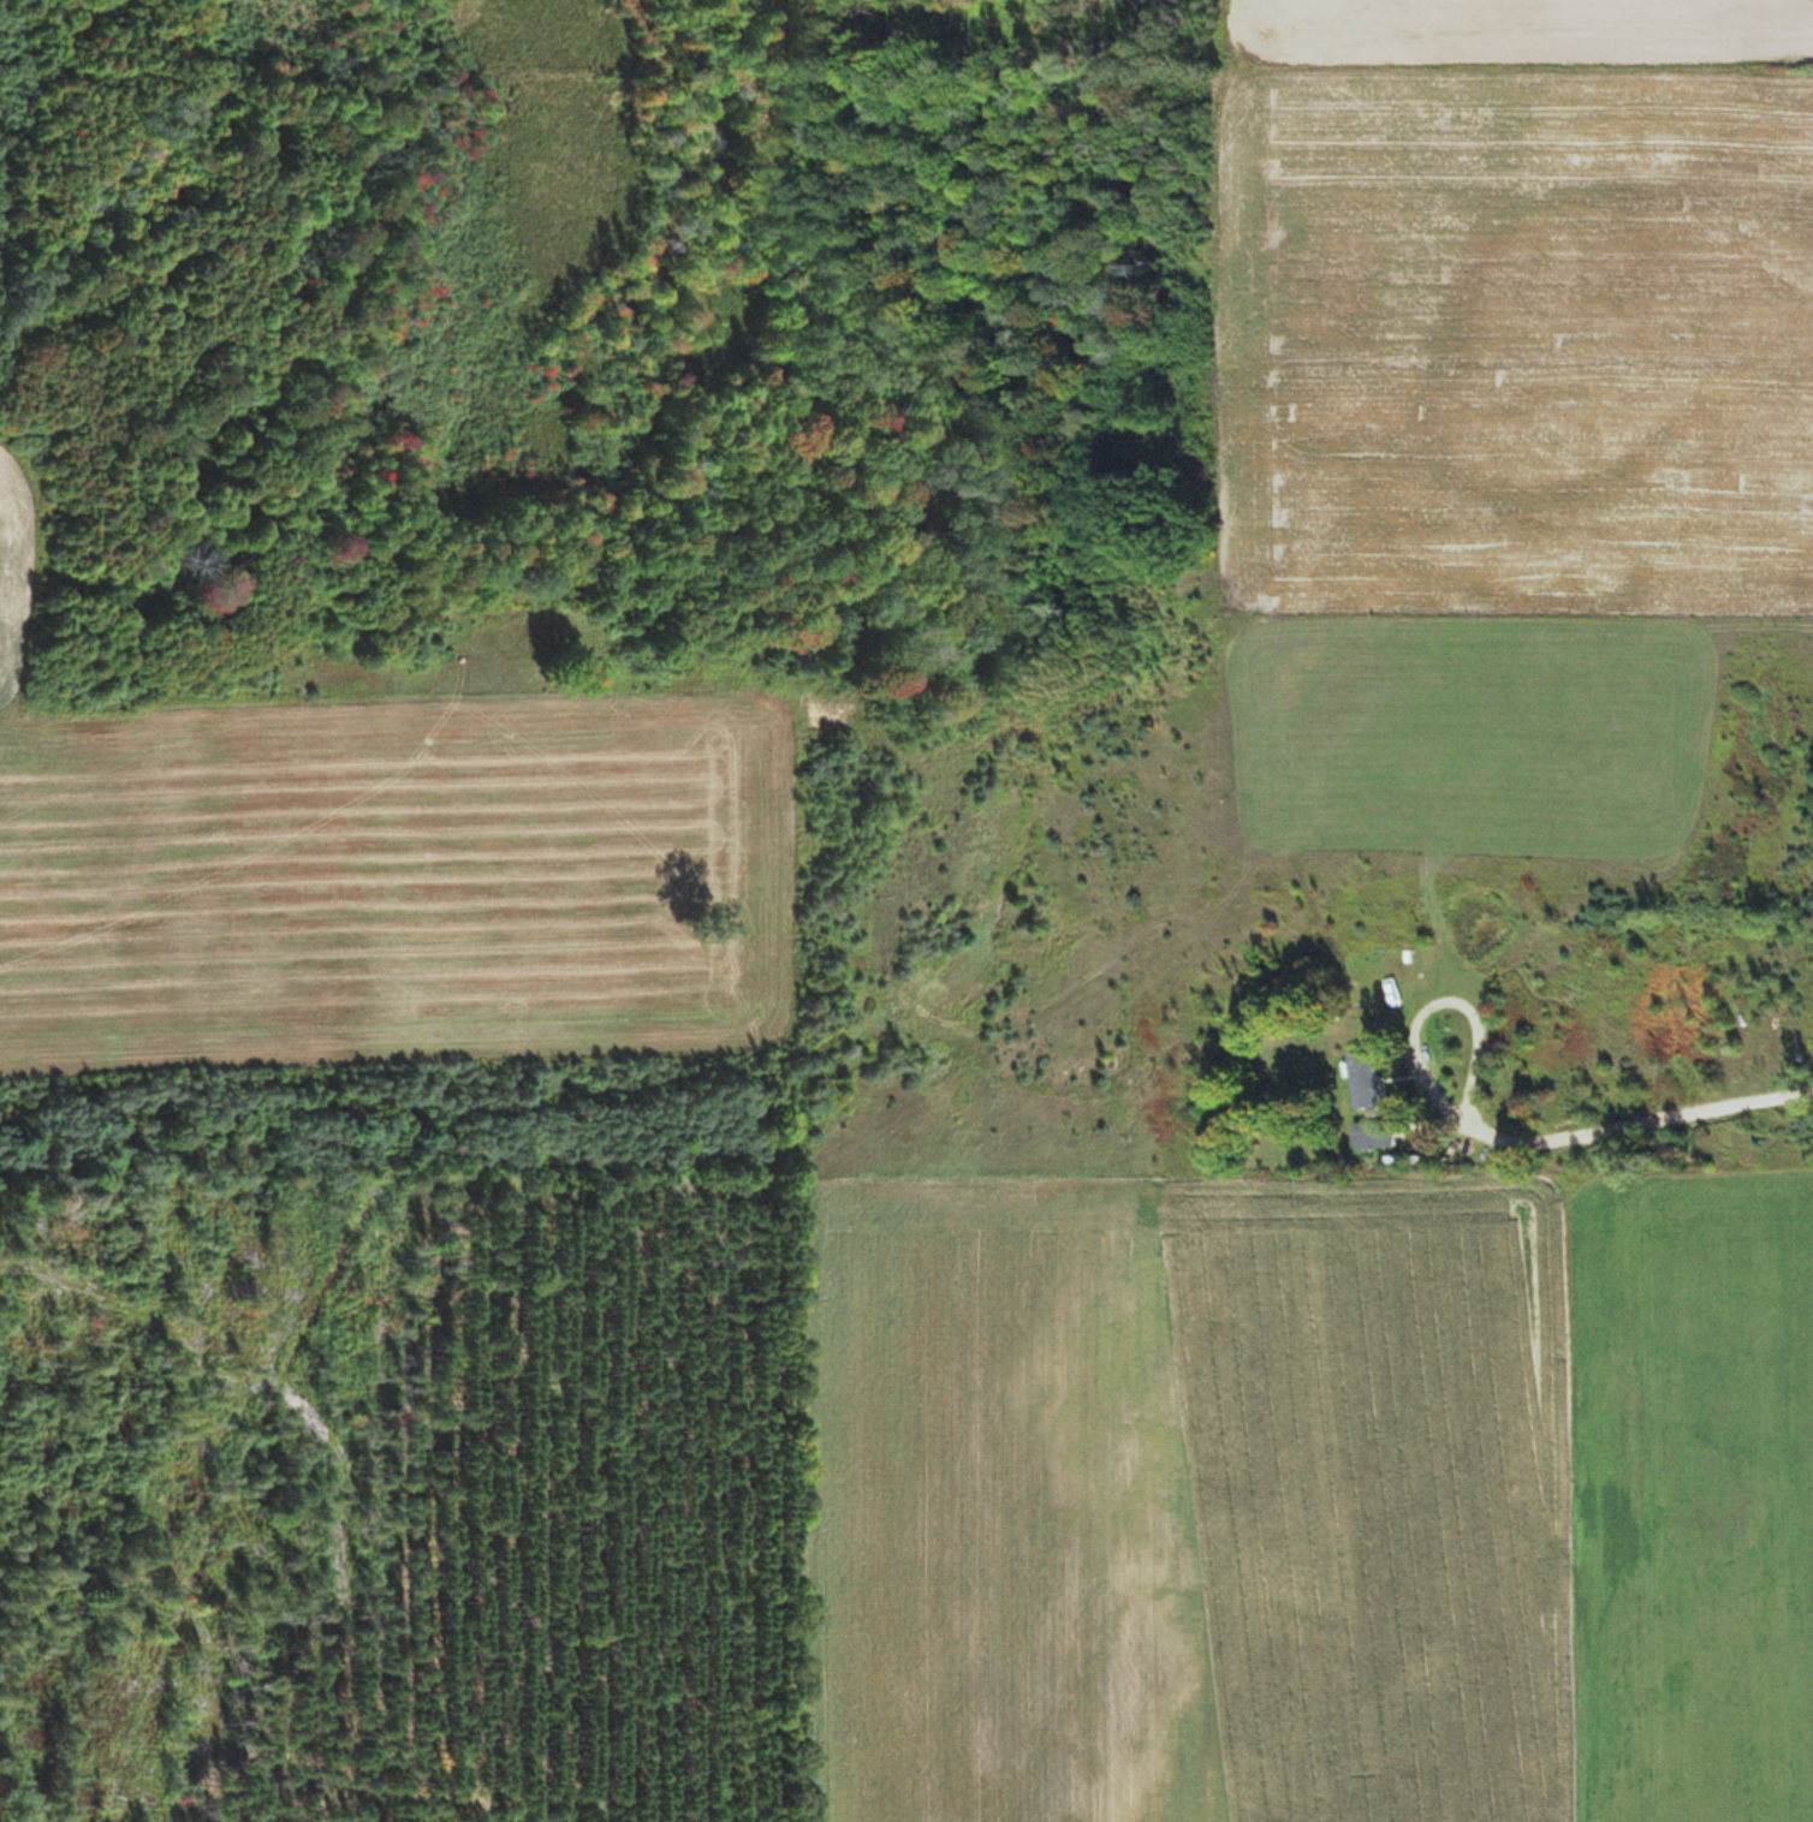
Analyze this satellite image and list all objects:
building: (1381, 1137)

